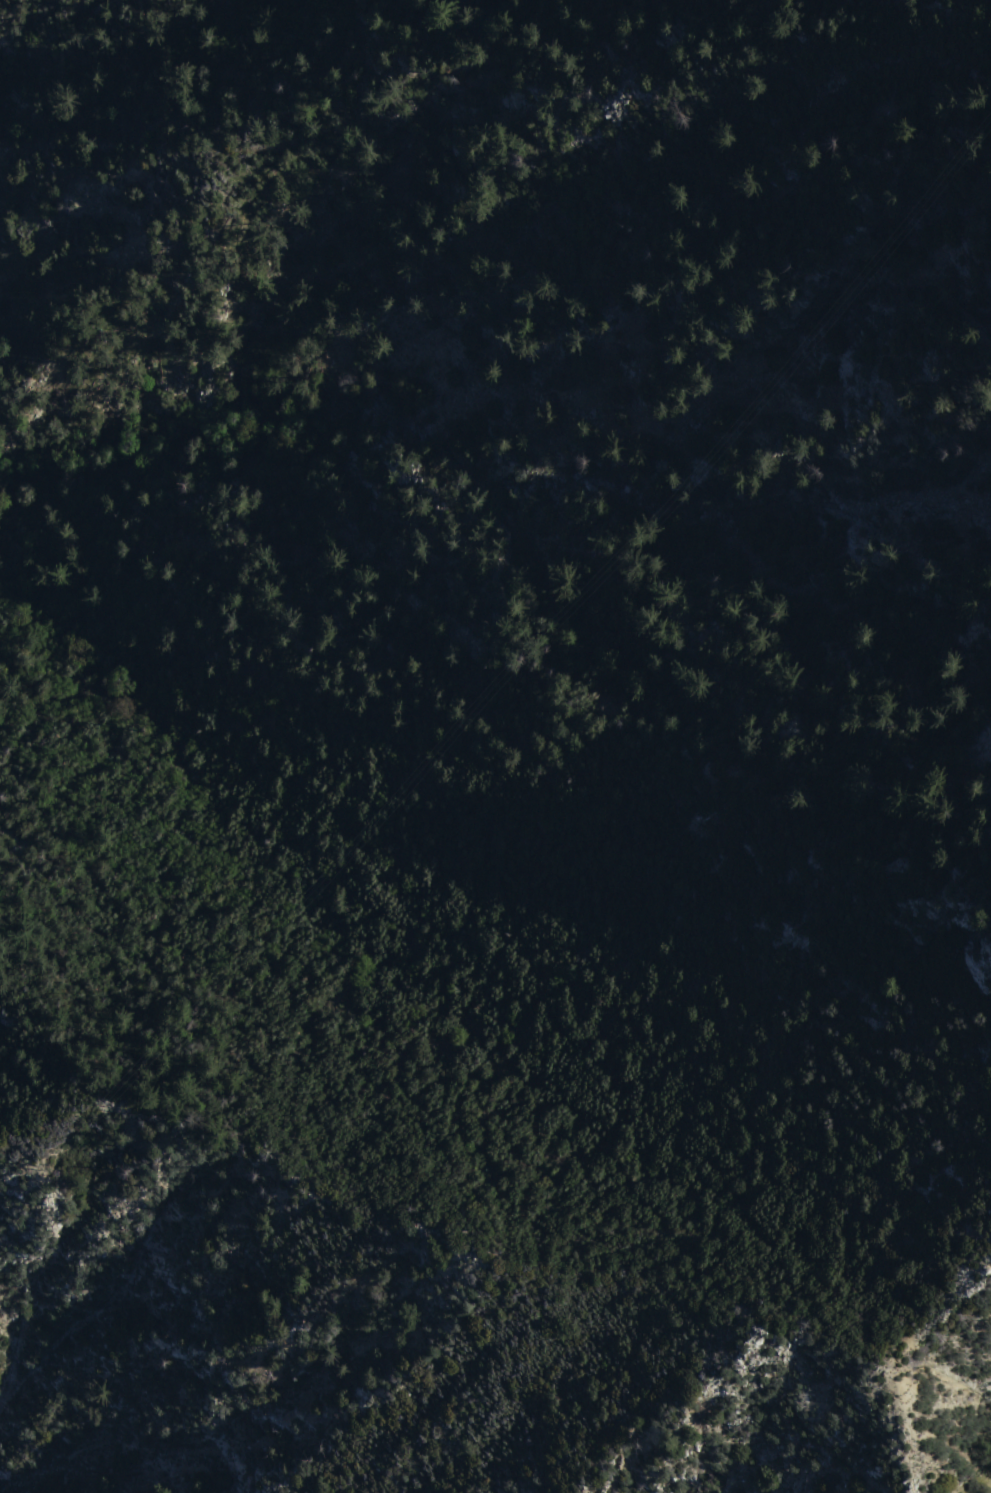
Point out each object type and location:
road: (907, 1349)

